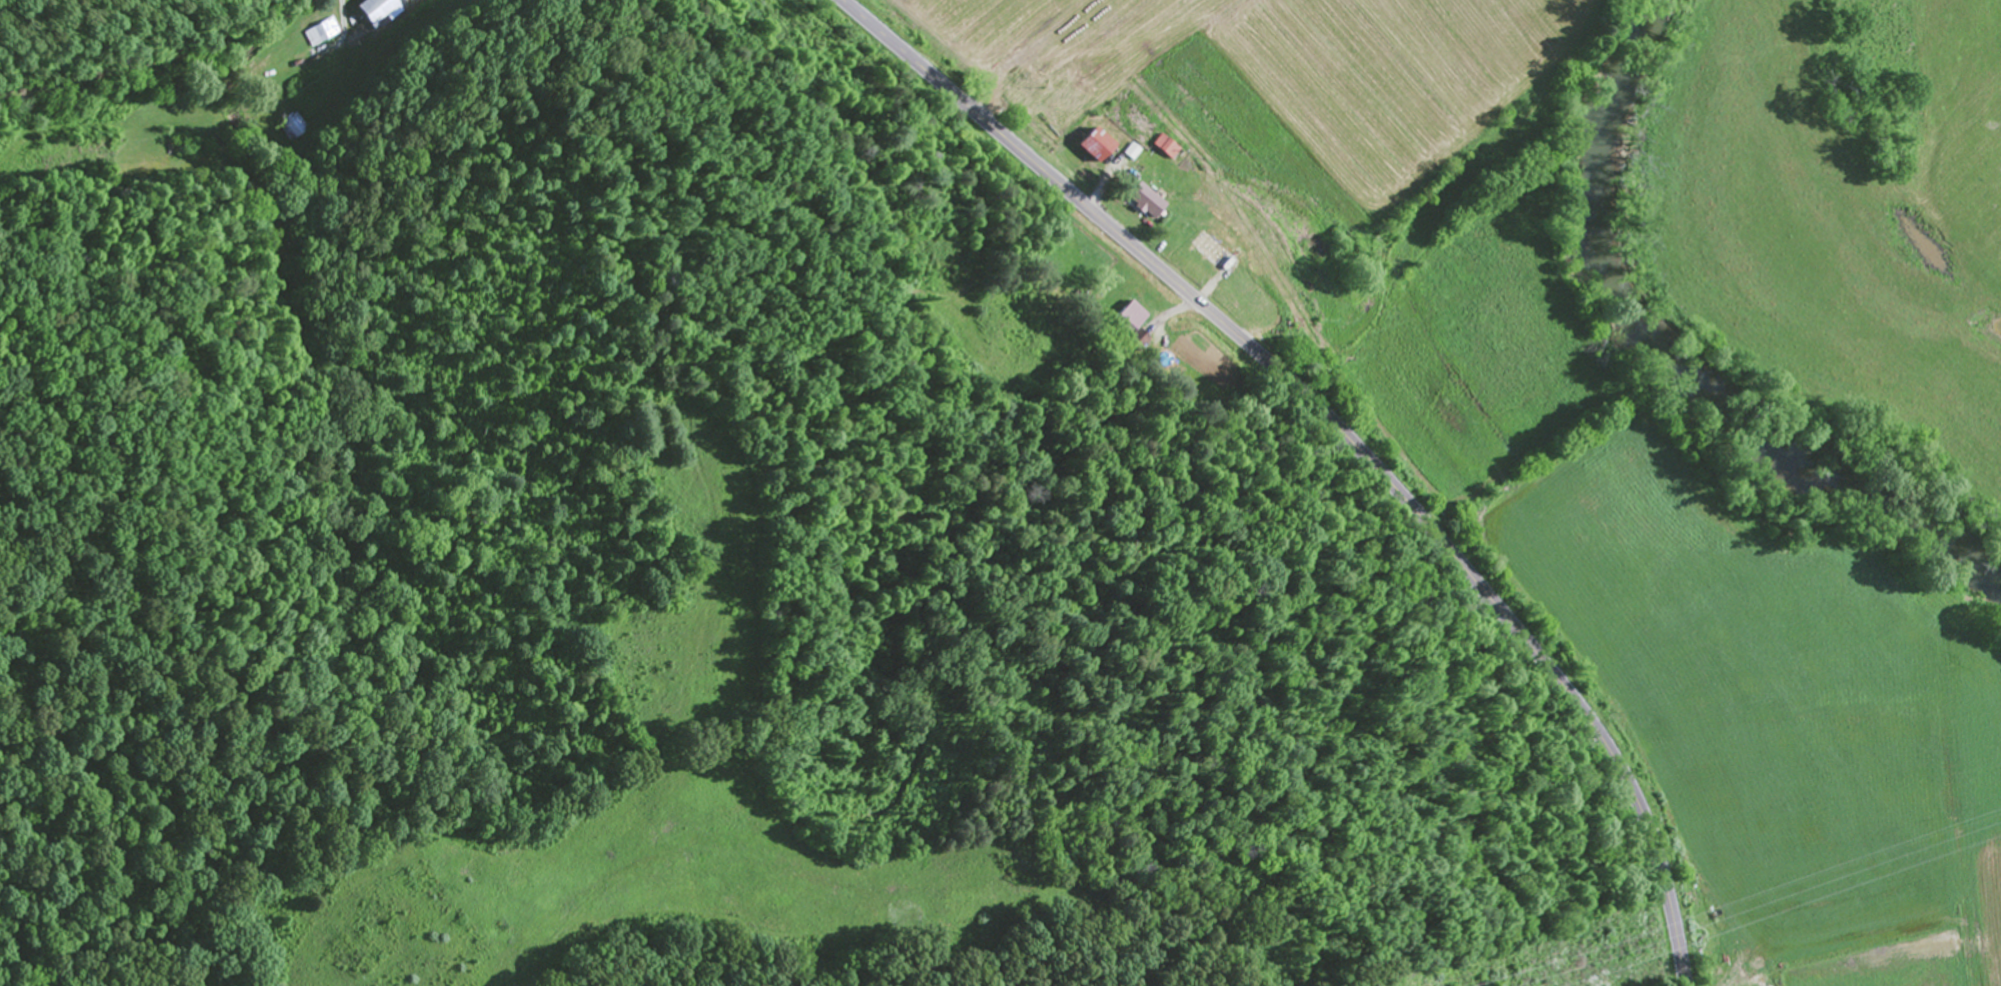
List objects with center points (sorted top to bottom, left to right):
building: (377, 10)
building: (321, 34)
road: (506, 78)
building: (289, 127)
building: (1101, 148)
building: (1169, 148)
building: (1148, 202)
building: (1217, 255)
building: (1128, 320)
building: (1284, 326)
river: (1673, 365)
road: (1347, 434)

